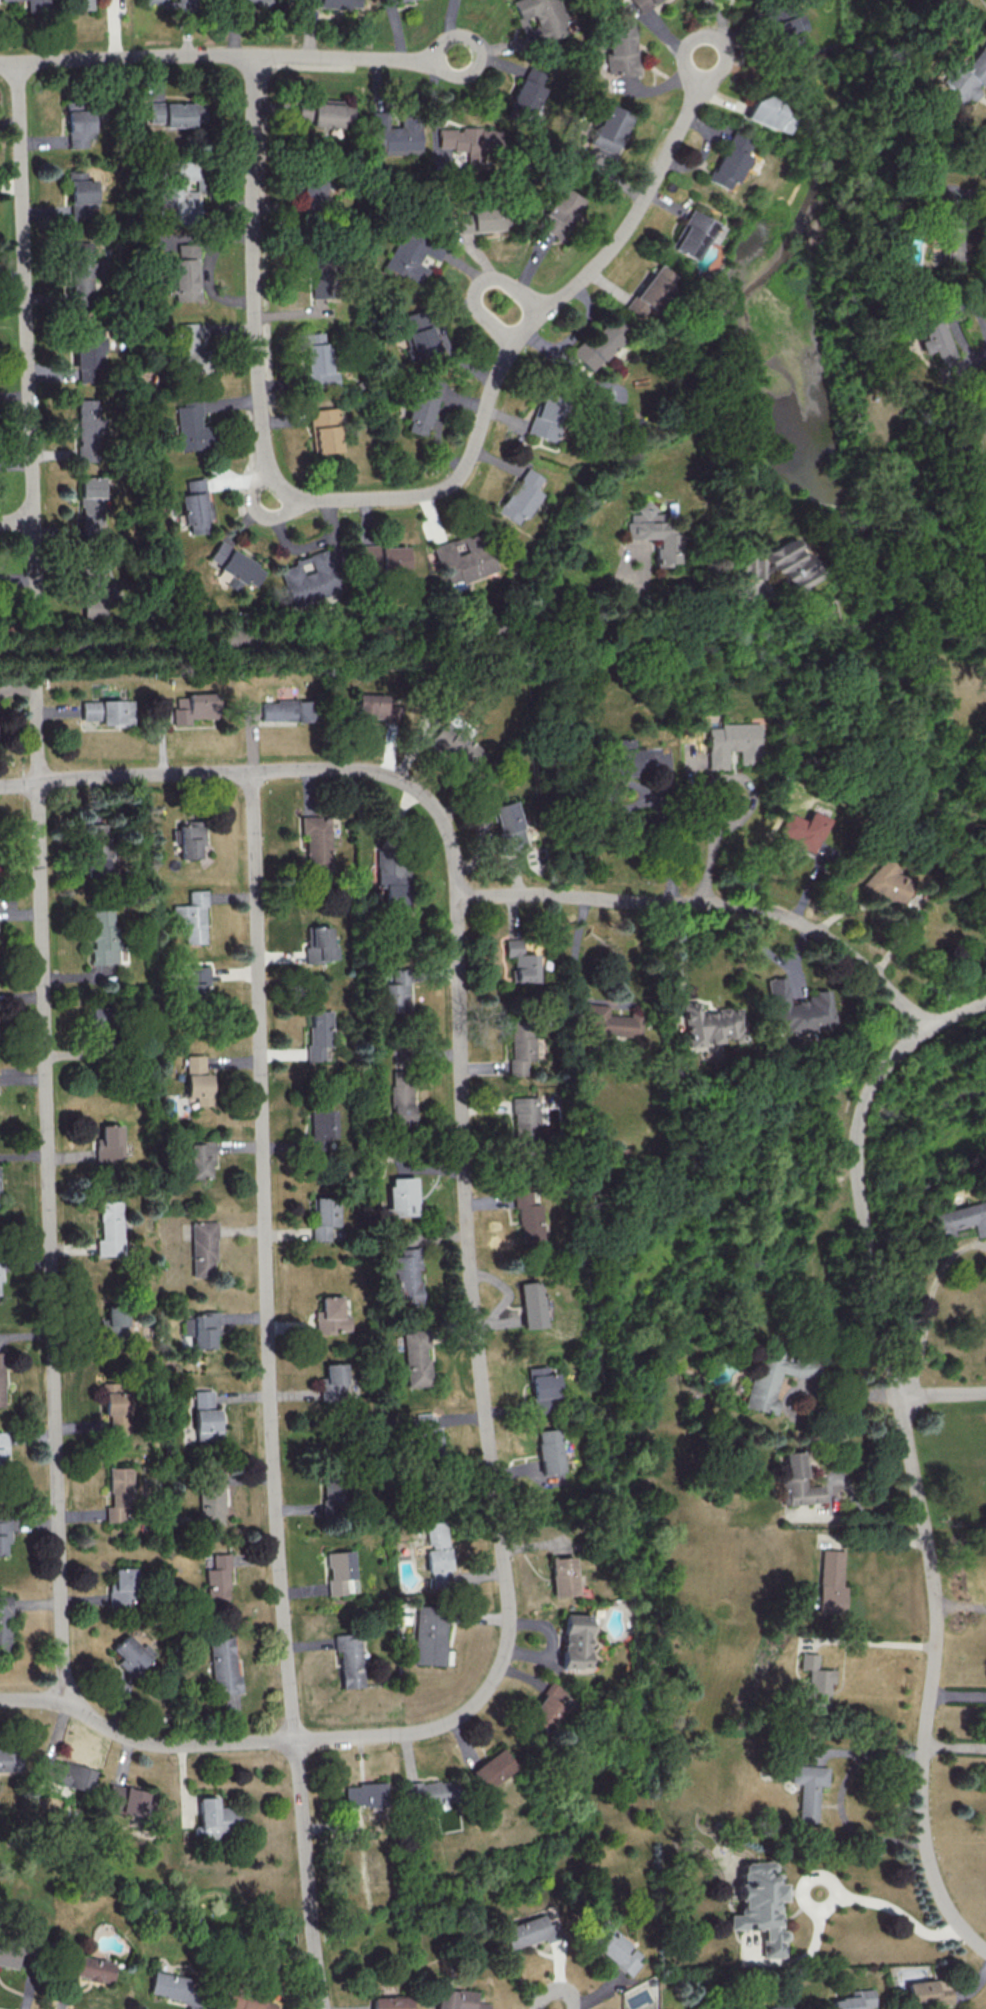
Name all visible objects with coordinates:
building: (246, 0)
building: (155, 1)
building: (390, 1)
building: (334, 3)
building: (81, 4)
building: (640, 4)
building: (36, 5)
building: (538, 20)
building: (779, 24)
road: (488, 49)
building: (620, 50)
road: (204, 54)
building: (961, 75)
building: (528, 91)
building: (171, 113)
building: (324, 113)
building: (765, 113)
building: (79, 123)
building: (609, 129)
road: (746, 129)
building: (394, 133)
building: (463, 141)
road: (810, 143)
road: (901, 144)
building: (729, 160)
building: (178, 191)
building: (311, 192)
building: (81, 194)
building: (559, 212)
building: (481, 219)
building: (695, 234)
building: (948, 244)
building: (410, 257)
building: (185, 274)
building: (82, 277)
building: (321, 280)
road: (479, 283)
road: (26, 291)
building: (650, 291)
building: (418, 333)
building: (931, 337)
building: (599, 342)
building: (187, 350)
building: (88, 354)
road: (967, 357)
building: (317, 361)
building: (605, 405)
building: (422, 406)
building: (545, 416)
building: (189, 425)
road: (439, 425)
building: (88, 430)
building: (324, 430)
road: (464, 469)
building: (520, 496)
building: (92, 502)
building: (194, 505)
road: (16, 523)
building: (654, 532)
building: (367, 556)
building: (391, 558)
building: (460, 559)
building: (789, 565)
building: (234, 566)
building: (750, 567)
road: (34, 574)
building: (308, 577)
building: (97, 600)
road: (327, 635)
building: (229, 636)
road: (34, 653)
building: (193, 707)
building: (373, 707)
building: (287, 710)
building: (107, 711)
road: (36, 731)
building: (731, 743)
building: (457, 745)
building: (625, 757)
road: (19, 781)
road: (749, 801)
building: (507, 825)
road: (662, 828)
building: (801, 830)
building: (189, 839)
building: (315, 842)
building: (95, 849)
building: (392, 878)
building: (887, 881)
road: (712, 904)
building: (197, 919)
building: (101, 936)
building: (319, 945)
road: (678, 958)
building: (520, 961)
building: (195, 980)
building: (395, 991)
building: (793, 1009)
building: (99, 1012)
building: (608, 1022)
building: (706, 1024)
building: (318, 1036)
building: (520, 1048)
building: (201, 1081)
building: (401, 1096)
river: (931, 1110)
building: (524, 1123)
building: (321, 1128)
building: (108, 1143)
road: (463, 1148)
building: (205, 1161)
building: (402, 1197)
building: (323, 1216)
building: (528, 1216)
building: (957, 1219)
building: (109, 1228)
road: (49, 1241)
building: (209, 1247)
building: (0, 1270)
building: (412, 1273)
building: (530, 1305)
road: (927, 1305)
building: (335, 1318)
building: (113, 1323)
building: (204, 1328)
building: (421, 1358)
building: (770, 1378)
building: (3, 1380)
building: (539, 1382)
building: (333, 1383)
road: (807, 1386)
road: (269, 1391)
road: (942, 1394)
building: (117, 1411)
building: (209, 1413)
building: (424, 1435)
building: (3, 1443)
building: (547, 1450)
road: (910, 1453)
building: (796, 1481)
building: (119, 1495)
building: (330, 1496)
building: (211, 1497)
road: (858, 1516)
building: (4, 1534)
building: (436, 1554)
building: (338, 1572)
building: (560, 1576)
building: (218, 1580)
building: (829, 1582)
building: (121, 1587)
road: (960, 1603)
building: (4, 1623)
building: (428, 1635)
road: (870, 1640)
building: (575, 1641)
building: (129, 1655)
building: (348, 1659)
building: (228, 1664)
building: (814, 1680)
road: (958, 1690)
building: (545, 1707)
road: (142, 1743)
road: (955, 1748)
building: (8, 1759)
building: (490, 1768)
building: (65, 1774)
building: (807, 1790)
building: (427, 1792)
building: (362, 1794)
road: (837, 1796)
building: (125, 1800)
building: (214, 1818)
building: (759, 1905)
road: (893, 1913)
building: (529, 1929)
building: (613, 1947)
building: (7, 1954)
building: (90, 1970)
building: (173, 1987)
road: (555, 1991)
building: (927, 1991)
building: (456, 1999)
building: (853, 1999)
building: (249, 2002)
building: (390, 2002)
building: (778, 2005)

